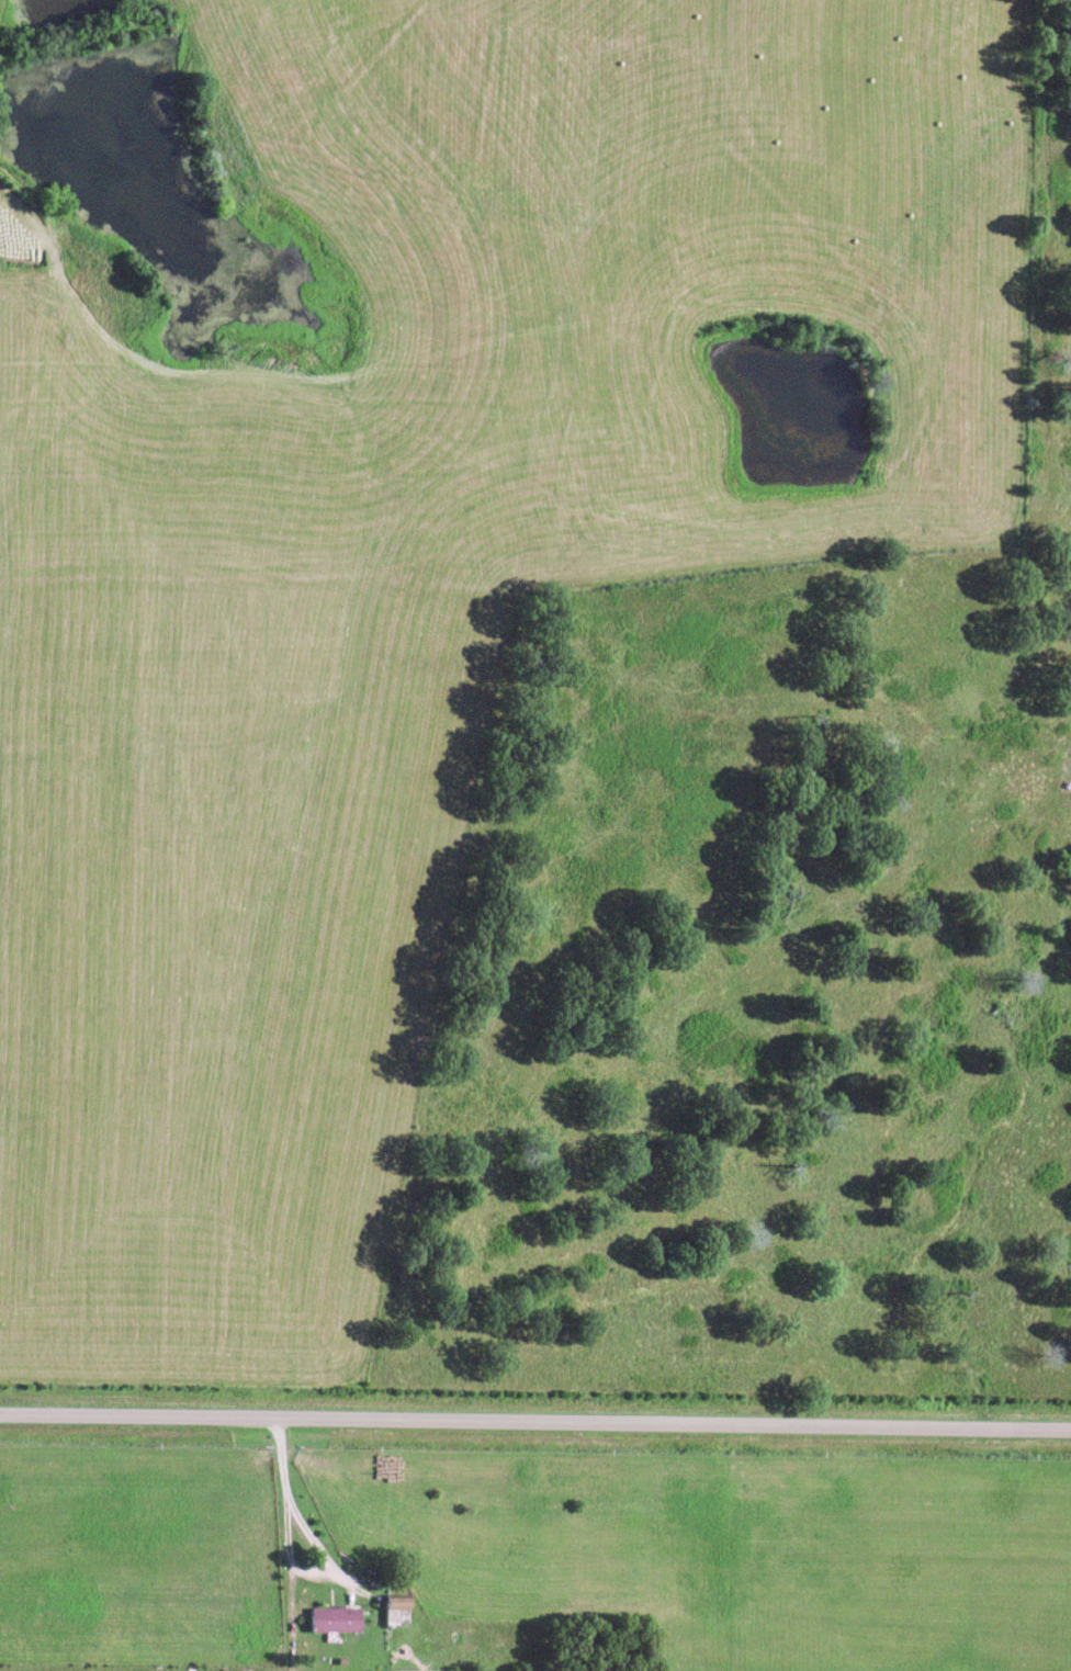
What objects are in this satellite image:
road: (535, 1424)
building: (398, 1603)
building: (336, 1619)

